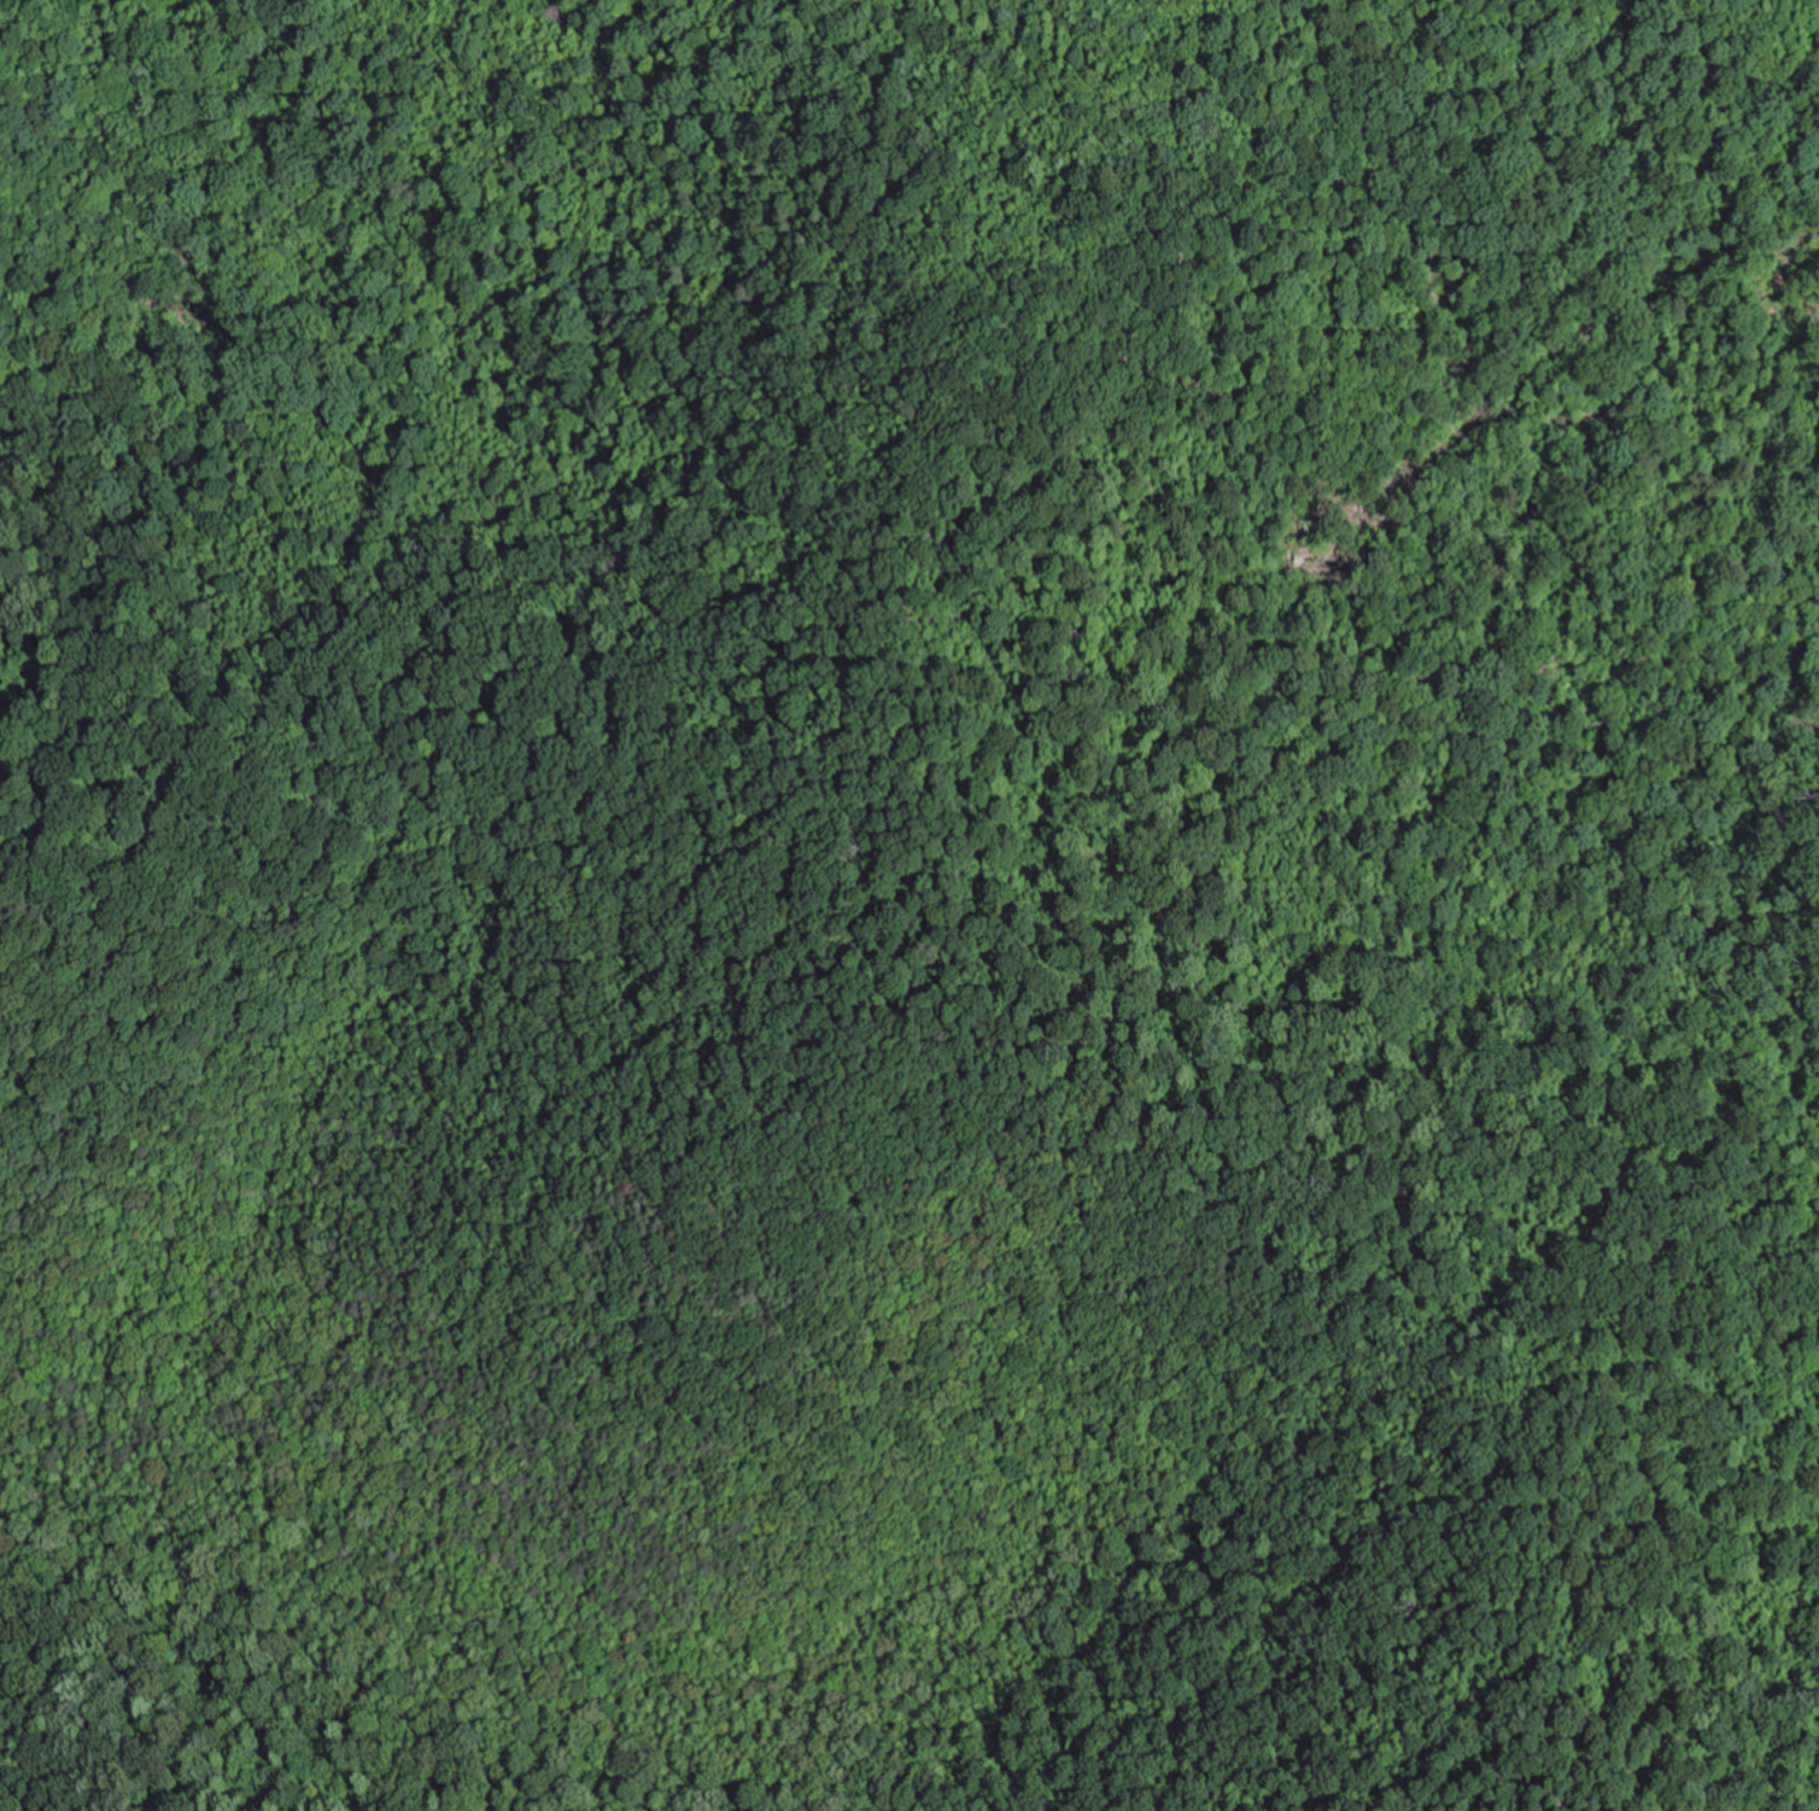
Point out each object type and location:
road: (1125, 876)

